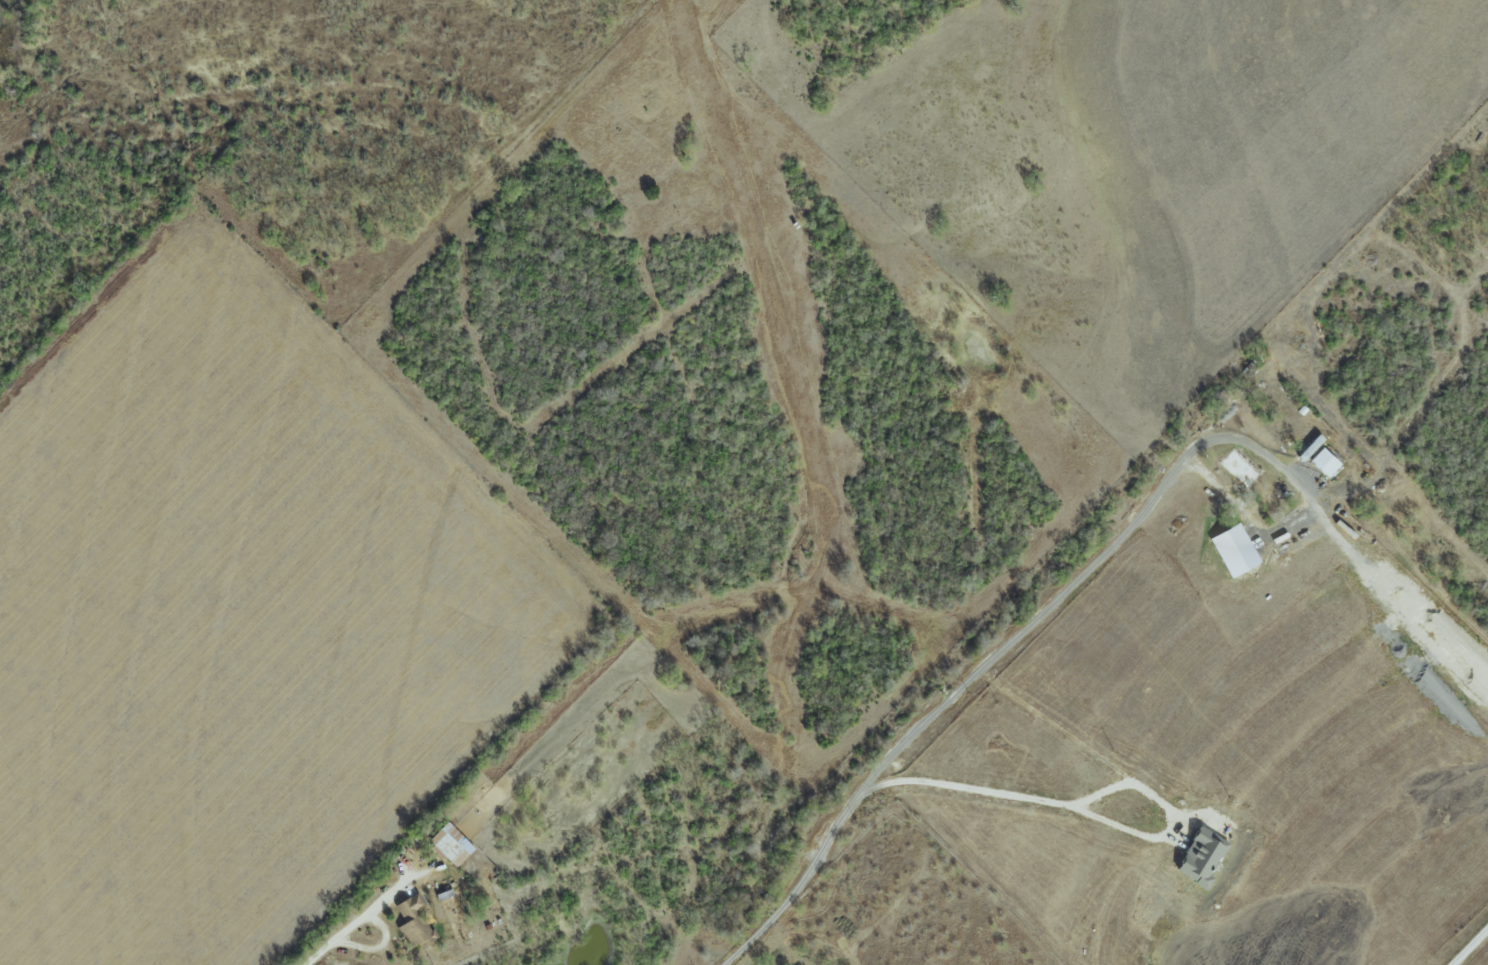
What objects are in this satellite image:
road: (1261, 446)
building: (1323, 462)
building: (1233, 550)
road: (961, 686)
road: (1081, 812)
building: (449, 844)
building: (1201, 856)
building: (413, 921)
road: (339, 936)
road: (1470, 947)

